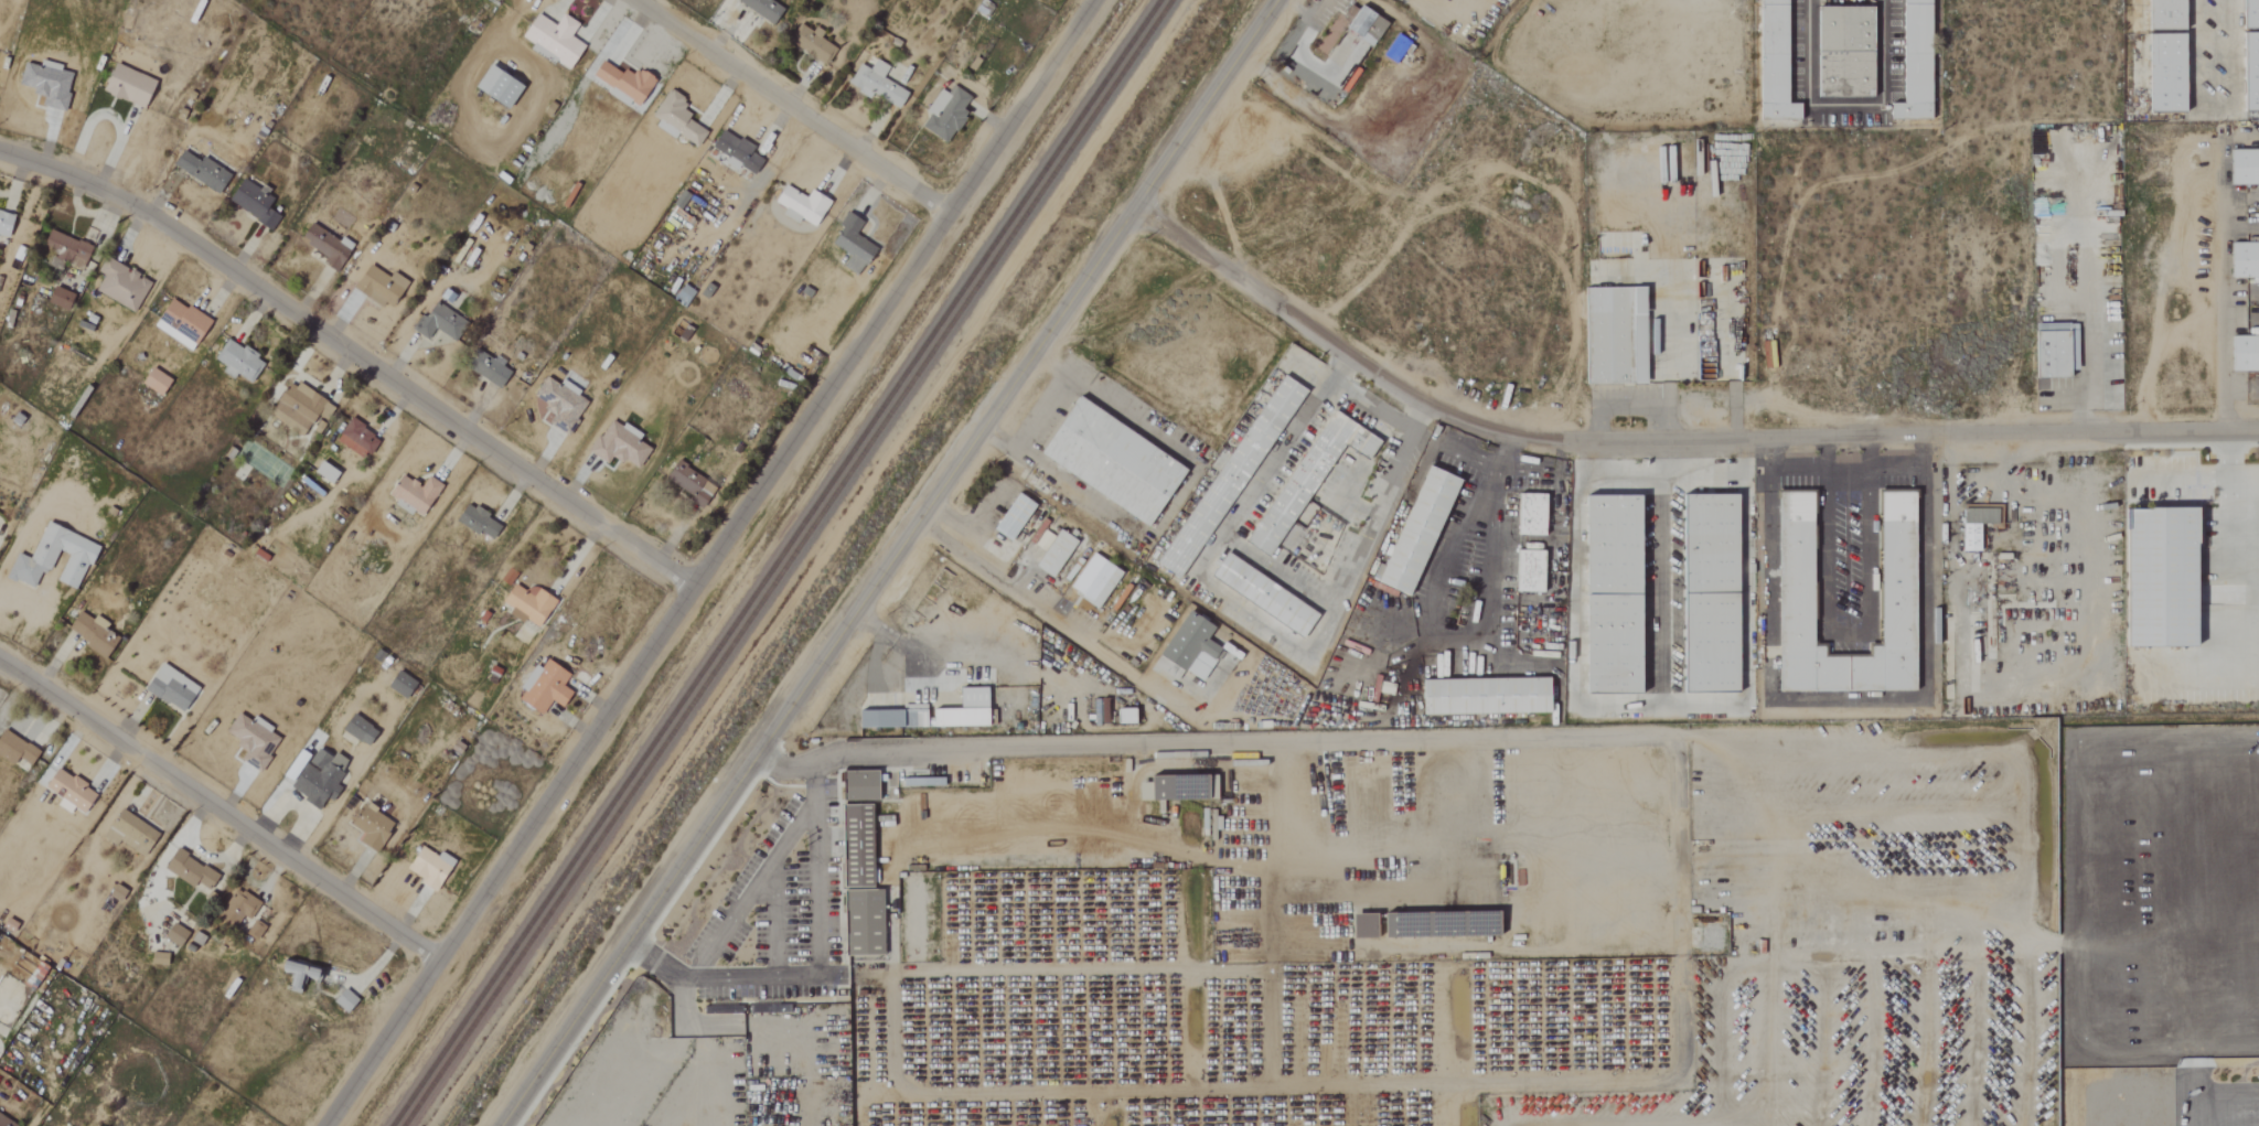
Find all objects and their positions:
road: (1428, 6)
building: (760, 9)
building: (2161, 14)
building: (2248, 14)
building: (1362, 25)
building: (552, 37)
building: (811, 44)
building: (1841, 52)
building: (1910, 62)
building: (1769, 63)
building: (2248, 72)
building: (2161, 73)
building: (620, 82)
building: (51, 83)
building: (875, 84)
building: (132, 86)
building: (494, 87)
road: (791, 106)
road: (1844, 106)
road: (2210, 111)
building: (943, 112)
building: (674, 119)
building: (735, 152)
building: (2242, 168)
building: (205, 172)
building: (256, 202)
building: (799, 204)
building: (7, 224)
building: (849, 244)
building: (323, 246)
building: (2242, 260)
building: (124, 285)
building: (377, 286)
road: (2218, 292)
building: (64, 299)
building: (437, 322)
building: (185, 325)
building: (1615, 334)
building: (2051, 350)
building: (2242, 353)
road: (353, 354)
building: (240, 361)
building: (489, 371)
road: (1059, 374)
building: (159, 383)
building: (558, 404)
building: (298, 409)
road: (1039, 415)
road: (1663, 438)
building: (355, 439)
building: (615, 444)
road: (1009, 449)
road: (1824, 451)
road: (1869, 451)
road: (1660, 458)
building: (1113, 461)
road: (1921, 463)
road: (1765, 465)
road: (1843, 467)
building: (322, 472)
building: (1230, 476)
building: (1308, 476)
road: (1660, 476)
building: (686, 483)
building: (413, 493)
road: (1171, 504)
building: (1531, 514)
building: (1014, 516)
road: (1234, 517)
building: (477, 523)
building: (1971, 526)
road: (1455, 527)
building: (1417, 529)
road: (1364, 530)
road: (2226, 549)
building: (1054, 553)
building: (57, 557)
road: (707, 562)
railway: (774, 562)
railway: (785, 562)
road: (888, 562)
building: (1896, 568)
building: (1529, 571)
road: (1491, 573)
building: (2161, 576)
building: (1100, 583)
road: (1660, 591)
building: (1710, 592)
building: (1264, 593)
building: (1613, 593)
building: (525, 603)
road: (1747, 613)
road: (1572, 614)
road: (1052, 616)
road: (1844, 629)
building: (95, 633)
road: (1453, 643)
building: (1189, 647)
road: (874, 651)
road: (910, 653)
building: (405, 684)
building: (174, 688)
building: (542, 688)
building: (1485, 695)
road: (1844, 700)
building: (960, 710)
building: (910, 717)
building: (1122, 717)
building: (874, 719)
building: (363, 730)
building: (256, 740)
road: (1174, 748)
building: (18, 749)
building: (299, 763)
building: (322, 778)
building: (919, 782)
building: (859, 784)
building: (1174, 790)
building: (73, 792)
road: (812, 793)
road: (218, 811)
building: (374, 828)
road: (791, 832)
building: (133, 833)
building: (432, 867)
building: (193, 870)
building: (860, 883)
building: (239, 907)
building: (1359, 927)
building: (257, 930)
building: (179, 935)
building: (303, 974)
road: (732, 975)
building: (347, 1000)
building: (7, 1122)

